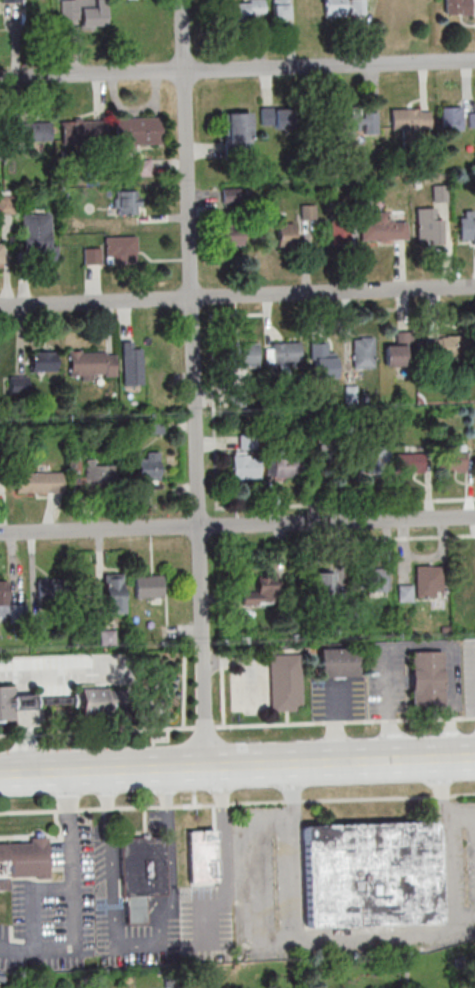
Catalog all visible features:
building: (11, 1)
building: (457, 7)
building: (344, 8)
building: (244, 9)
building: (280, 10)
building: (85, 12)
road: (237, 68)
building: (275, 117)
building: (451, 118)
building: (410, 119)
building: (472, 121)
building: (358, 122)
building: (81, 131)
building: (137, 131)
building: (237, 131)
building: (32, 132)
building: (142, 167)
building: (232, 195)
building: (129, 202)
building: (6, 203)
building: (427, 227)
building: (466, 227)
building: (382, 229)
building: (285, 234)
building: (339, 234)
building: (37, 236)
building: (231, 238)
building: (117, 246)
building: (1, 253)
building: (92, 255)
road: (237, 296)
building: (443, 348)
building: (398, 351)
building: (361, 352)
building: (282, 353)
building: (244, 354)
building: (43, 361)
building: (322, 362)
building: (132, 363)
building: (92, 364)
building: (156, 366)
building: (18, 383)
road: (194, 384)
building: (408, 462)
building: (450, 462)
building: (243, 466)
building: (286, 466)
building: (148, 467)
building: (91, 472)
building: (39, 482)
road: (237, 526)
building: (375, 580)
building: (429, 581)
building: (325, 584)
building: (148, 586)
building: (54, 588)
building: (263, 590)
building: (113, 593)
building: (3, 596)
building: (464, 597)
building: (107, 637)
building: (337, 662)
road: (61, 675)
building: (427, 679)
building: (284, 682)
road: (184, 684)
road: (22, 686)
road: (222, 686)
building: (97, 700)
road: (23, 702)
building: (14, 703)
road: (237, 726)
road: (25, 742)
road: (237, 767)
road: (237, 804)
building: (203, 856)
road: (110, 859)
building: (23, 860)
road: (67, 860)
road: (224, 861)
road: (175, 864)
building: (372, 874)
building: (143, 875)
road: (371, 939)
road: (137, 945)
road: (35, 948)

